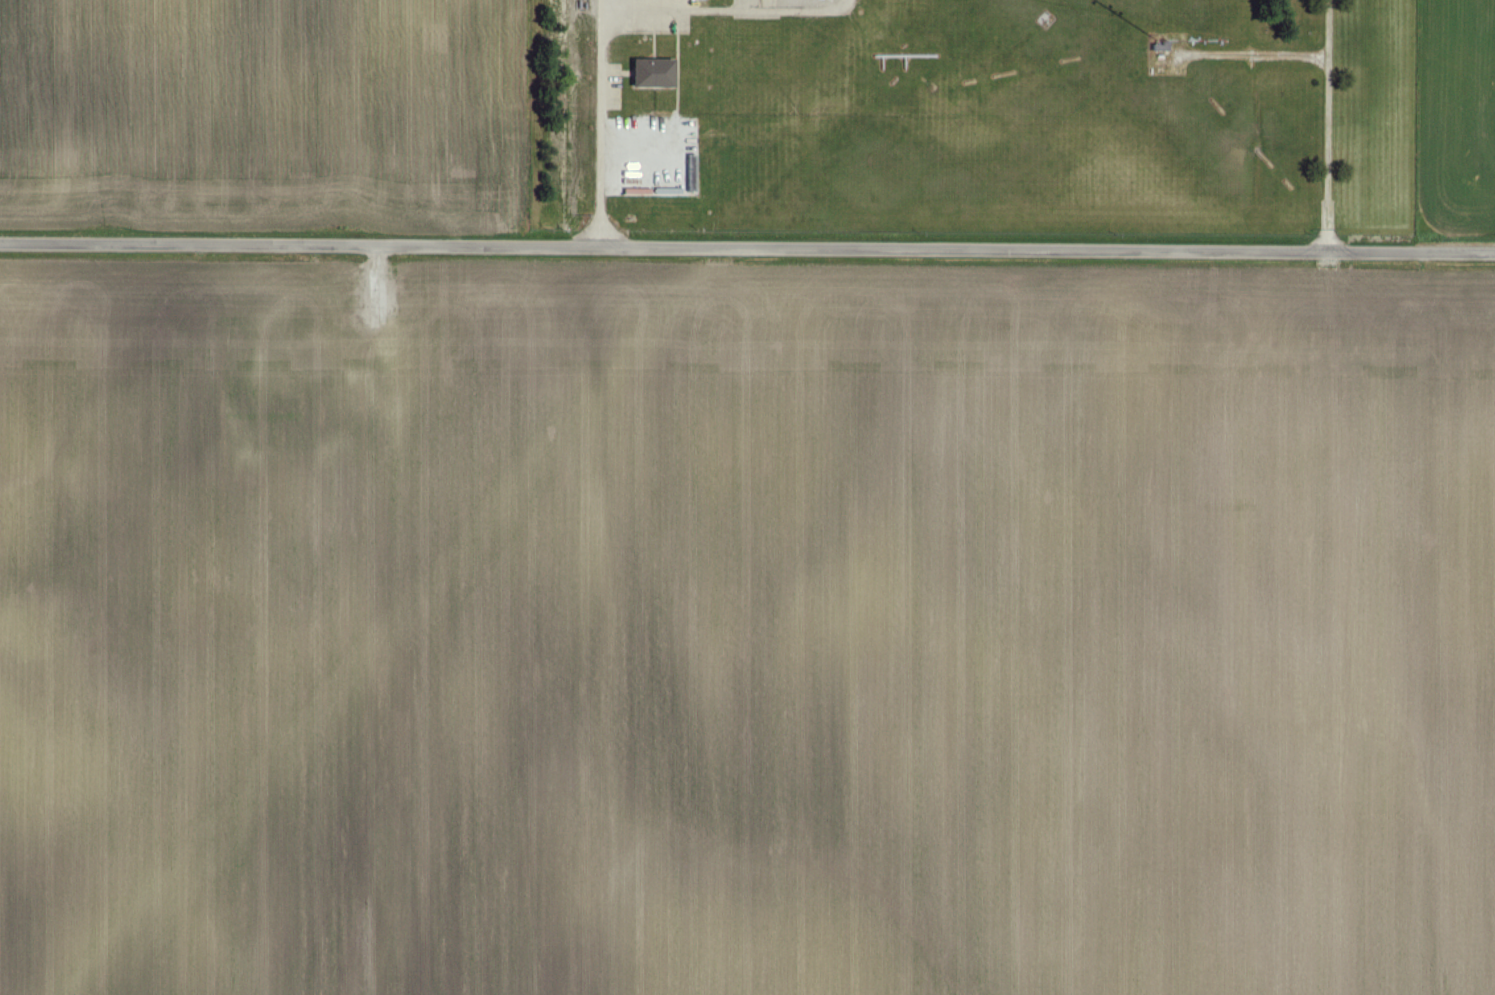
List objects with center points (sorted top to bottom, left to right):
road: (603, 8)
road: (1257, 57)
road: (1328, 126)
road: (747, 247)

